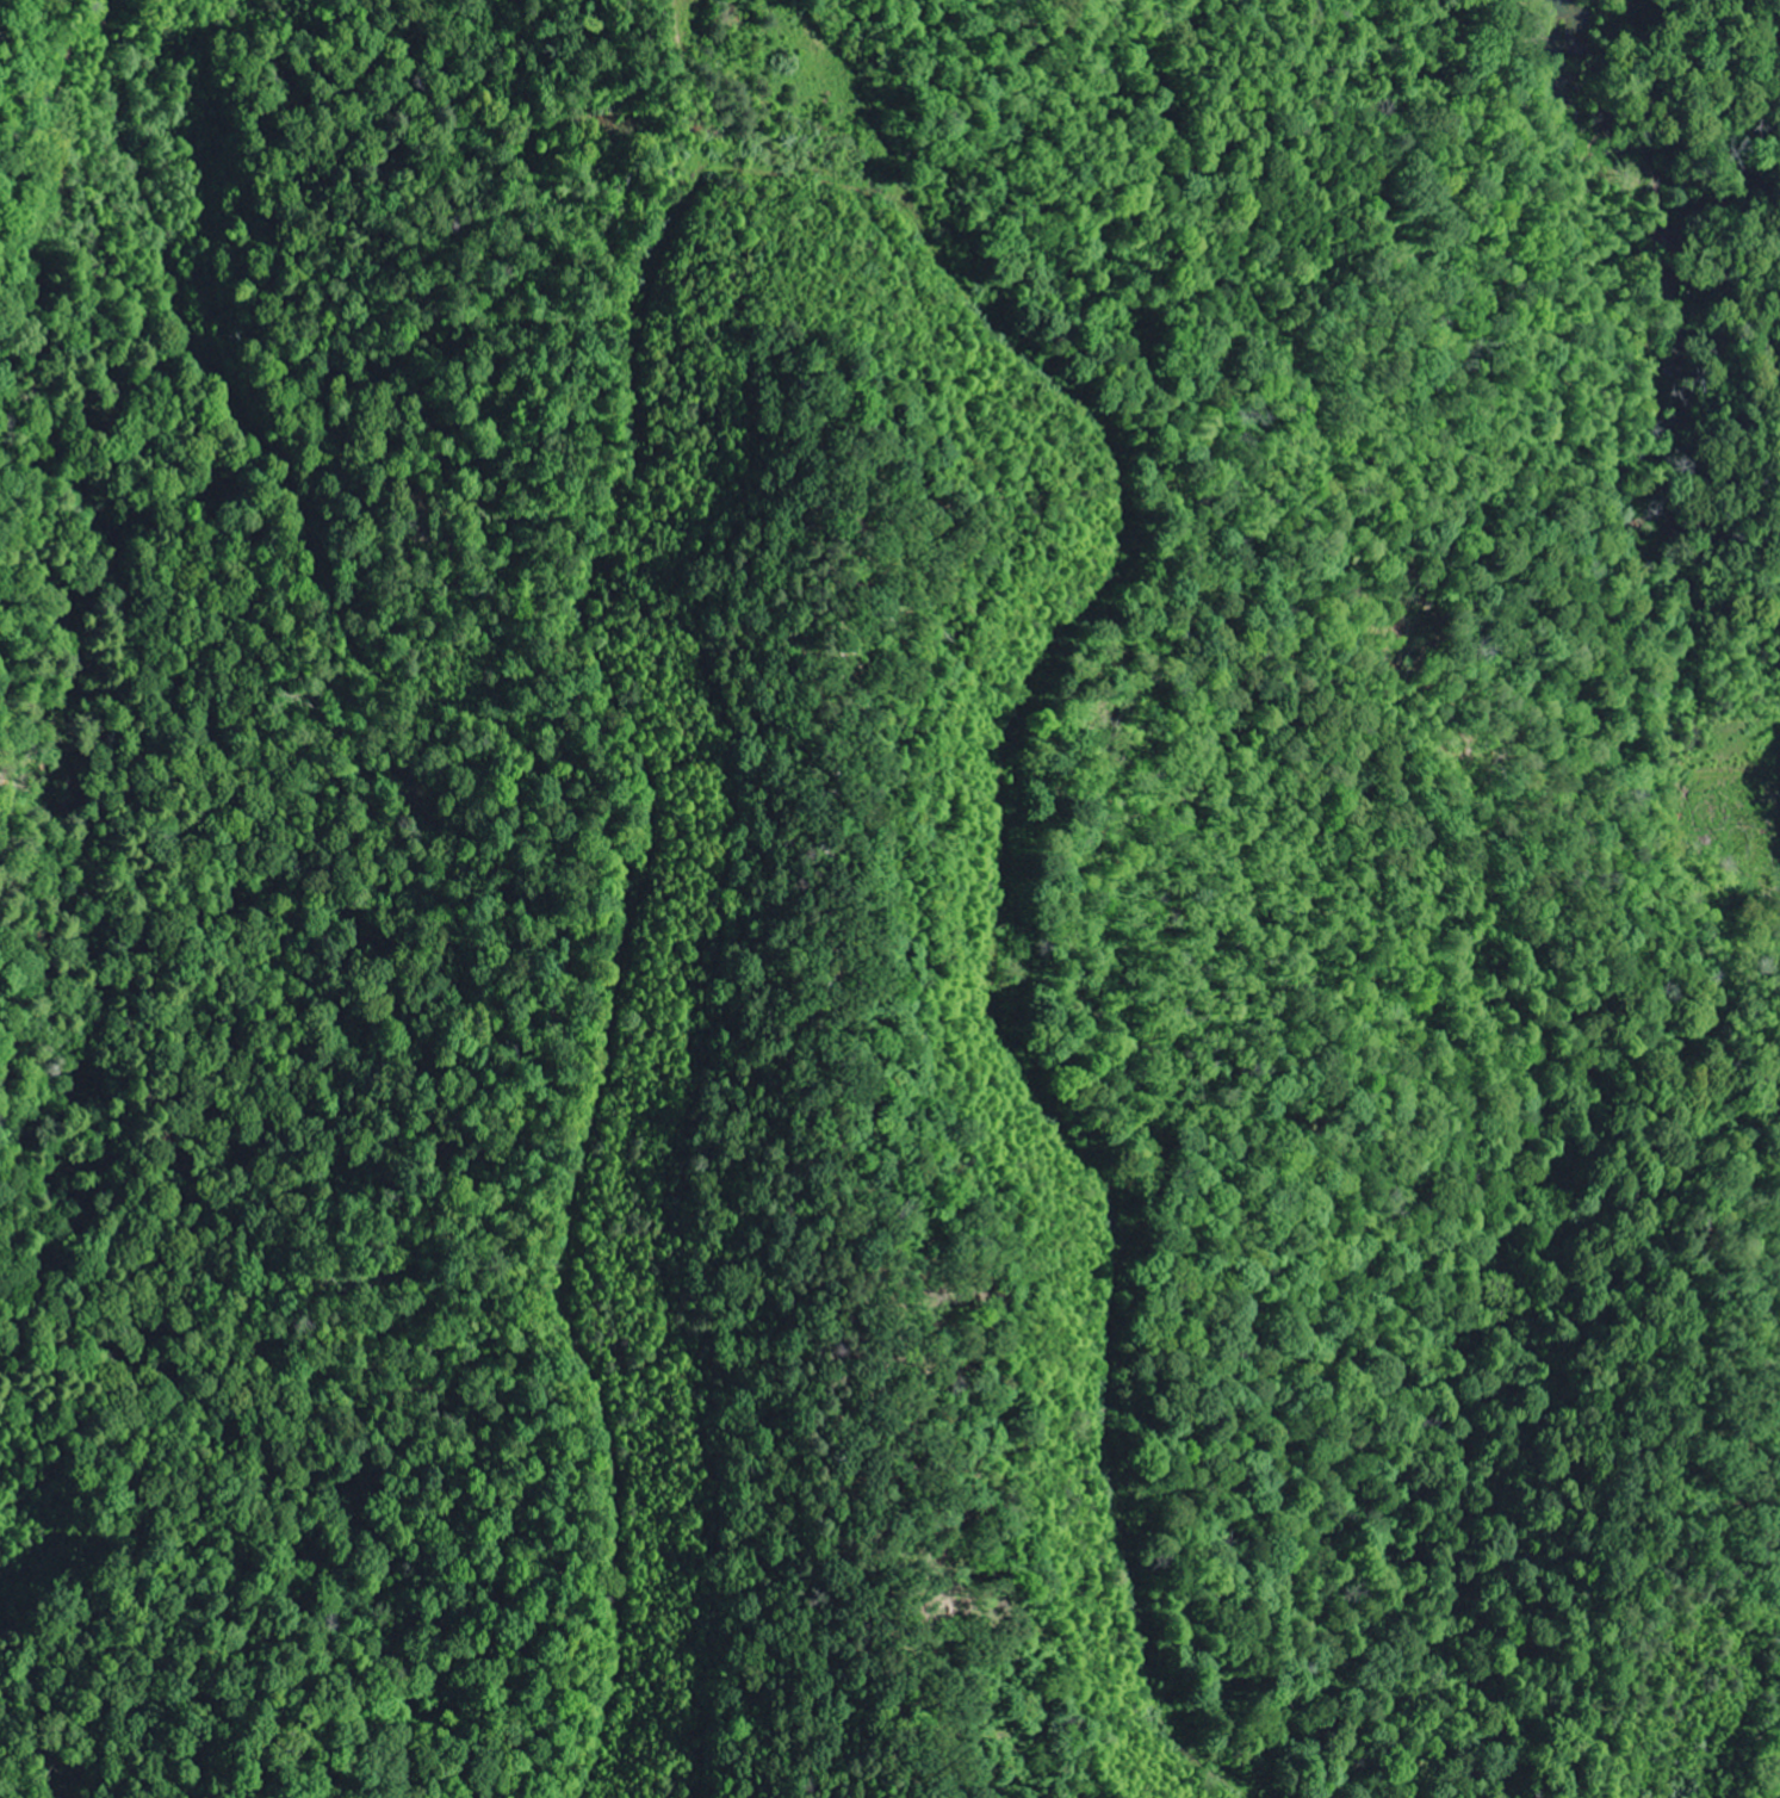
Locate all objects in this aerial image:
road: (49, 120)
road: (68, 943)

